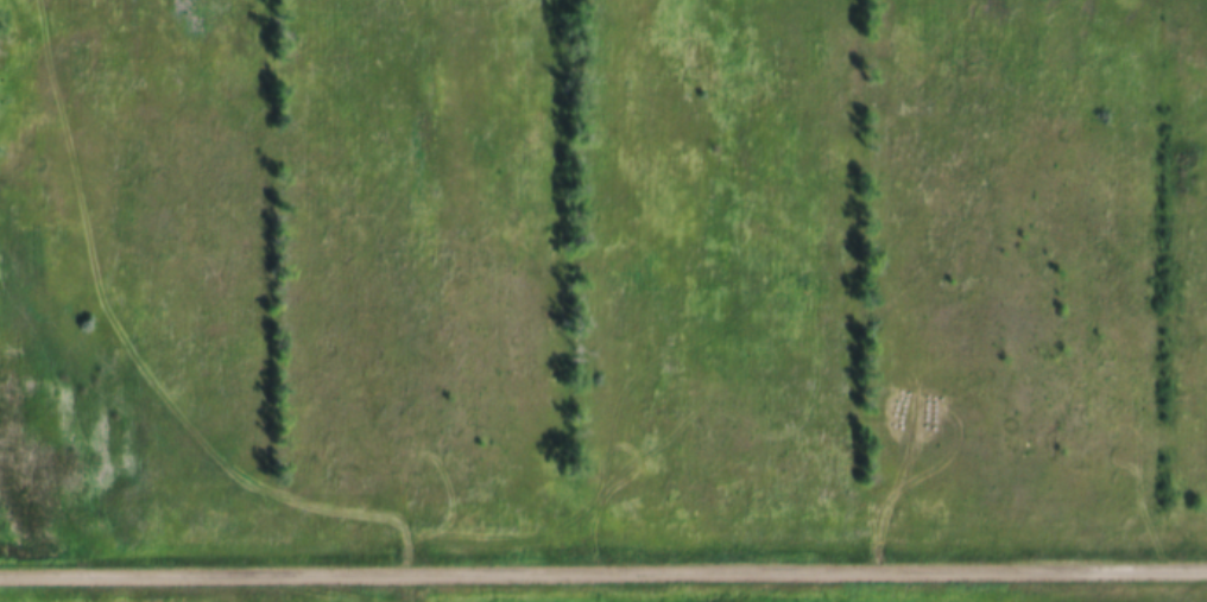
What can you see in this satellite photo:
road: (603, 572)

